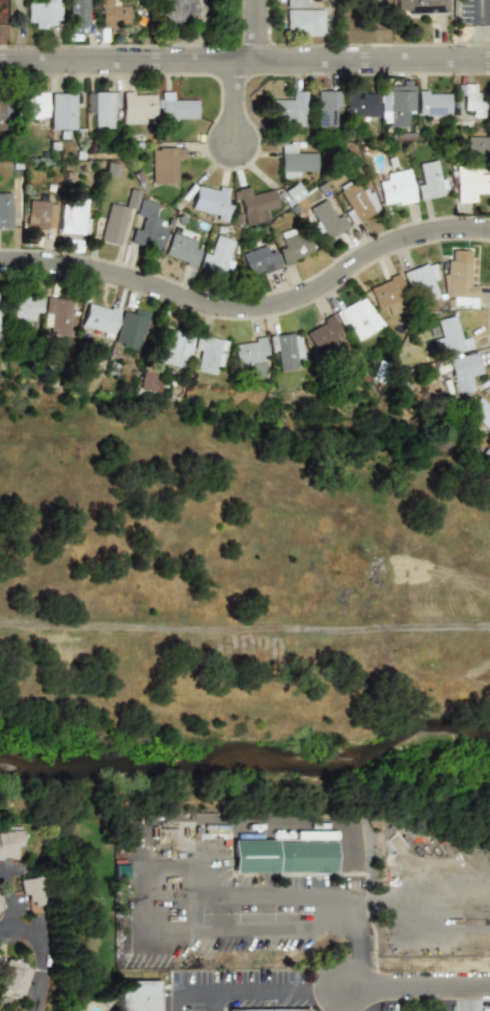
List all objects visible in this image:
building: (226, 1)
building: (298, 3)
building: (422, 6)
building: (43, 13)
building: (113, 14)
building: (81, 16)
building: (304, 21)
park: (186, 24)
road: (256, 30)
road: (483, 30)
road: (244, 61)
building: (473, 100)
road: (234, 102)
building: (433, 103)
building: (361, 104)
building: (34, 105)
building: (397, 105)
building: (327, 106)
building: (138, 107)
building: (103, 108)
building: (175, 108)
building: (289, 108)
building: (65, 109)
building: (3, 112)
building: (478, 146)
building: (297, 161)
building: (166, 164)
building: (431, 180)
building: (470, 183)
building: (396, 188)
building: (293, 193)
building: (211, 200)
building: (358, 200)
building: (253, 204)
building: (6, 210)
building: (41, 215)
building: (76, 217)
building: (329, 218)
building: (116, 222)
building: (147, 226)
building: (294, 247)
building: (183, 250)
building: (218, 256)
building: (260, 260)
building: (458, 276)
building: (423, 282)
building: (390, 294)
building: (27, 306)
road: (251, 307)
building: (59, 315)
building: (99, 318)
building: (361, 318)
building: (130, 328)
building: (323, 334)
building: (451, 337)
building: (171, 349)
building: (285, 349)
building: (207, 353)
building: (250, 355)
building: (465, 366)
building: (147, 381)
building: (480, 412)
park: (225, 572)
road: (244, 630)
river: (247, 764)
building: (9, 843)
building: (284, 857)
road: (210, 870)
building: (34, 890)
road: (8, 895)
road: (194, 895)
road: (41, 953)
building: (14, 977)
road: (417, 985)
road: (313, 988)
road: (185, 991)
building: (139, 996)
road: (360, 998)
road: (469, 998)
road: (316, 999)
road: (213, 1000)
building: (268, 1010)

